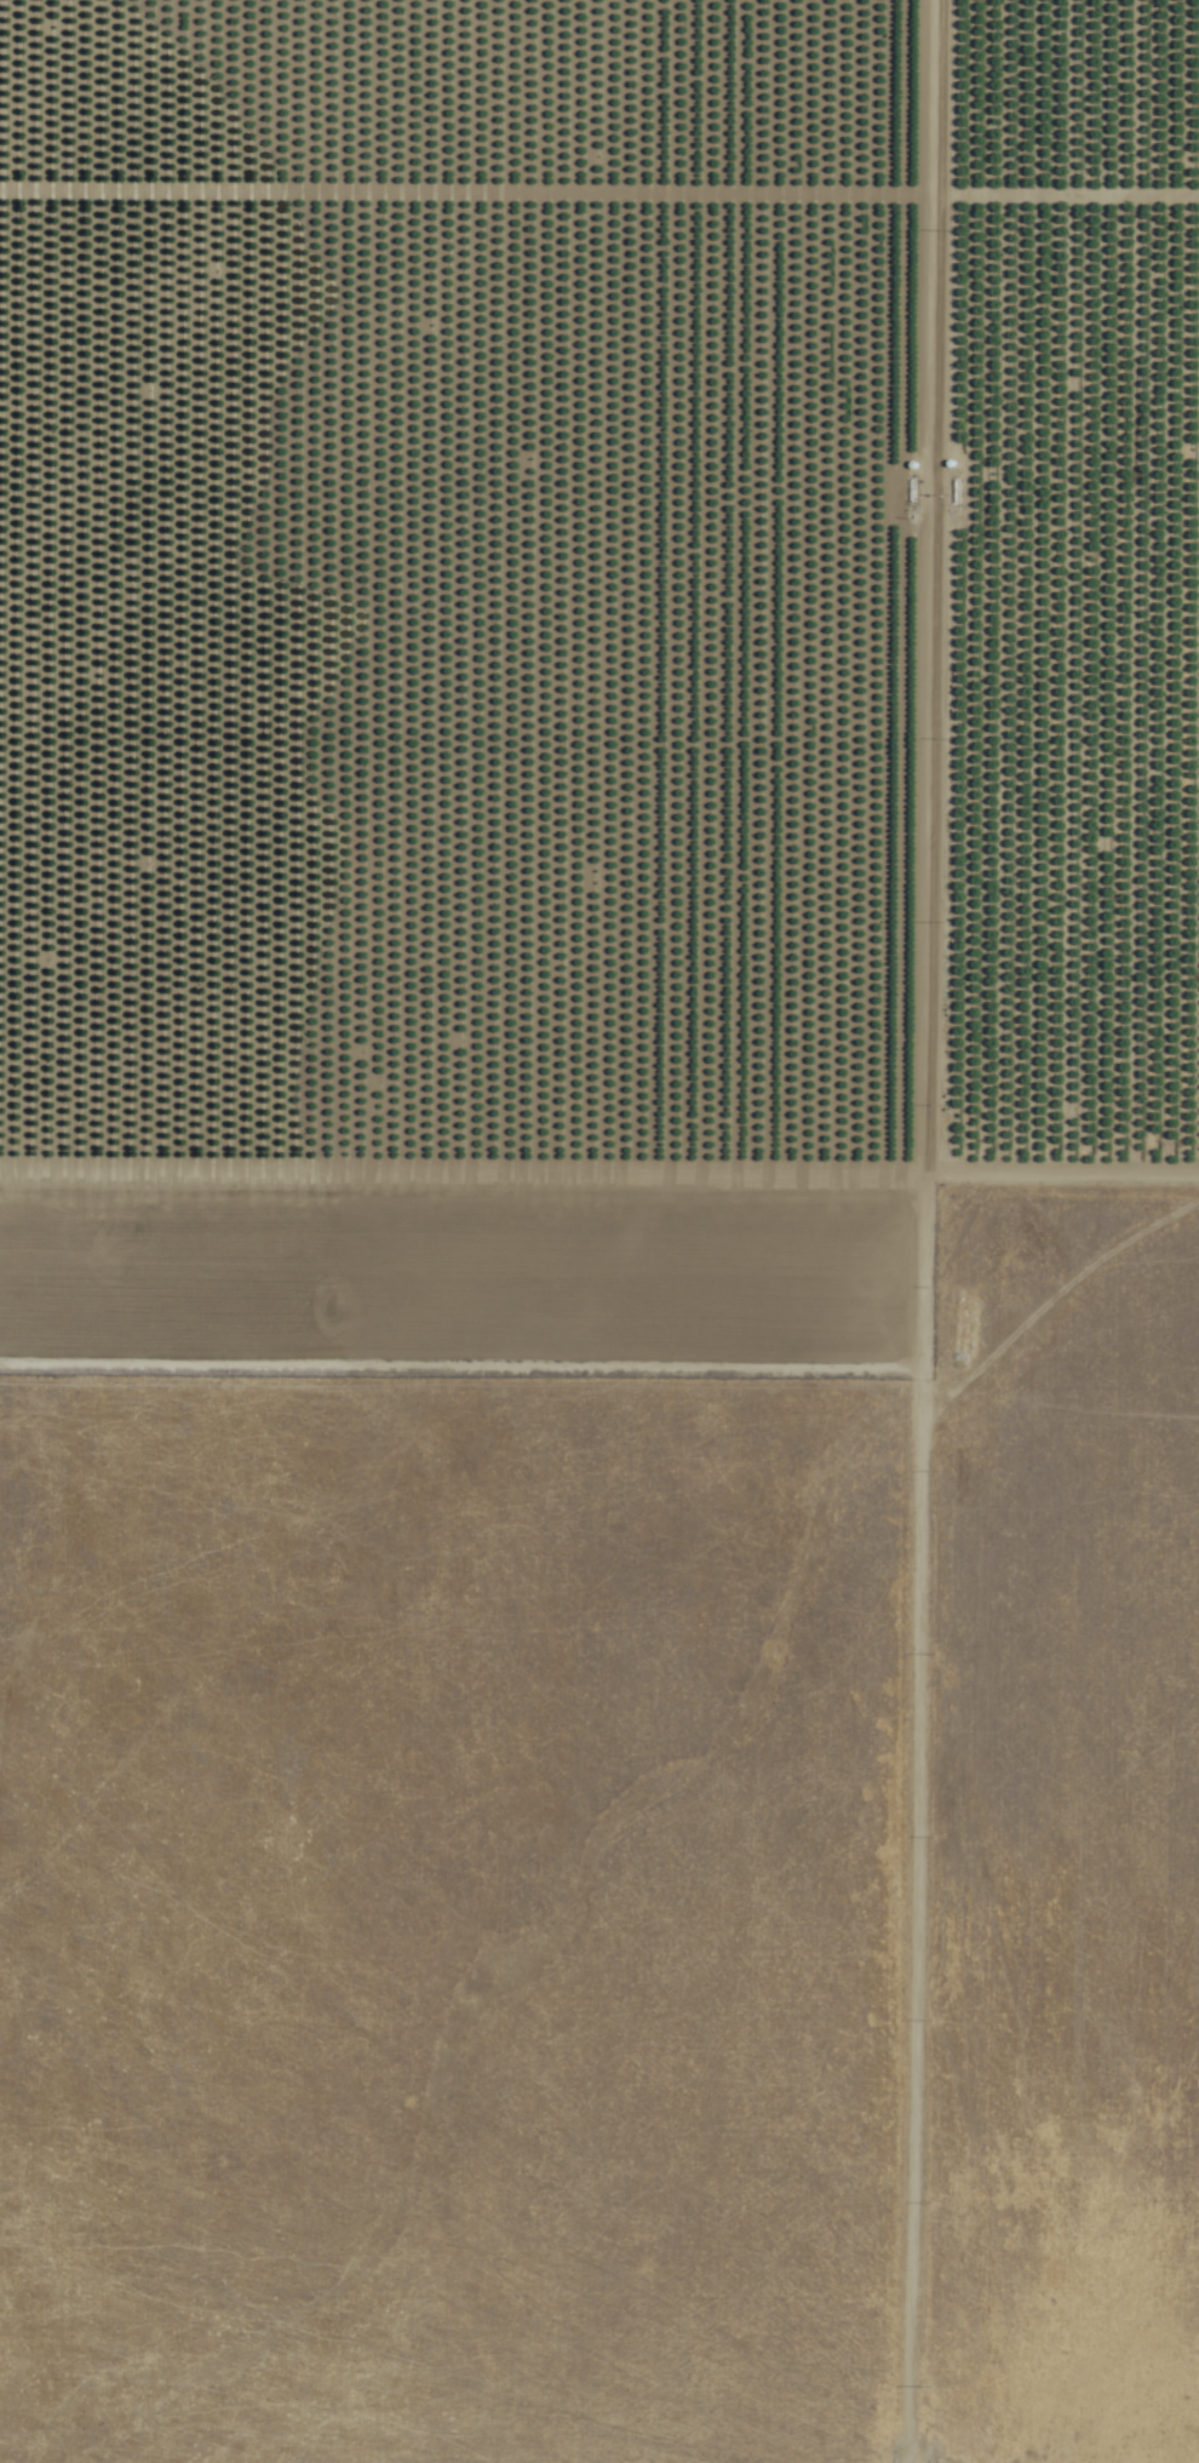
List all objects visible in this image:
crop: (418, 589)
road: (598, 1181)
road: (903, 1231)

